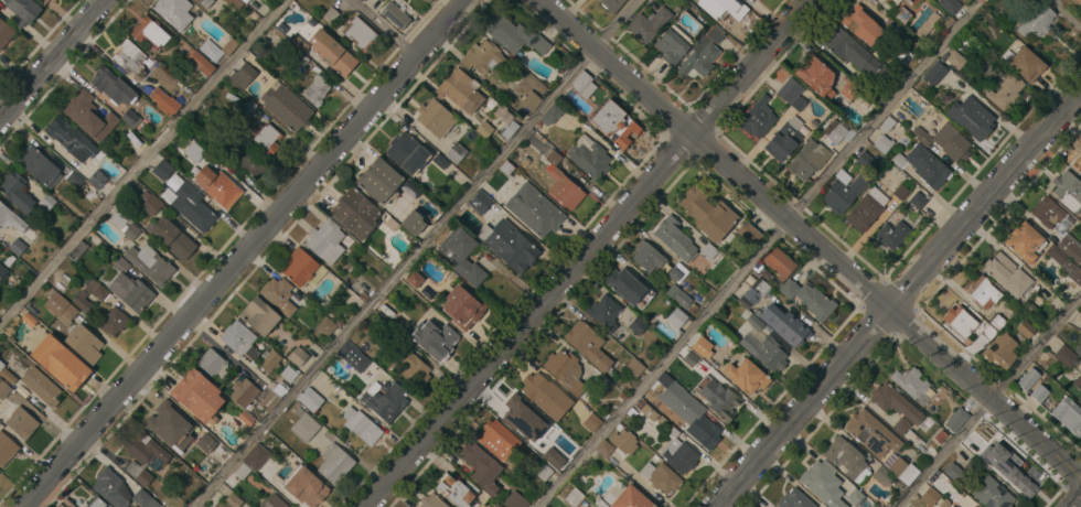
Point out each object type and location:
building: (52, 0)
building: (53, 0)
building: (244, 0)
building: (381, 0)
building: (884, 0)
building: (888, 0)
building: (427, 1)
building: (1079, 1)
building: (204, 2)
building: (236, 2)
building: (912, 2)
building: (611, 4)
building: (950, 6)
building: (728, 8)
building: (23, 9)
building: (173, 12)
building: (397, 12)
building: (330, 14)
building: (901, 14)
building: (1036, 20)
building: (984, 21)
building: (649, 24)
building: (861, 24)
building: (927, 25)
road: (386, 28)
building: (149, 32)
building: (4, 33)
building: (360, 34)
building: (515, 36)
building: (298, 43)
building: (672, 44)
building: (217, 48)
building: (849, 50)
building: (331, 52)
building: (702, 53)
building: (129, 57)
building: (481, 57)
road: (52, 58)
building: (300, 58)
building: (955, 60)
building: (199, 64)
building: (1025, 65)
building: (245, 73)
building: (934, 73)
building: (816, 77)
building: (893, 83)
building: (582, 85)
building: (113, 87)
building: (317, 89)
building: (460, 90)
building: (789, 90)
building: (848, 90)
building: (1003, 91)
building: (164, 101)
building: (531, 101)
building: (798, 104)
building: (248, 107)
building: (285, 107)
building: (501, 114)
building: (550, 115)
building: (88, 116)
building: (971, 117)
building: (129, 118)
building: (435, 118)
building: (757, 118)
building: (614, 123)
building: (887, 123)
building: (483, 129)
building: (510, 130)
building: (841, 132)
building: (69, 138)
building: (266, 138)
building: (784, 139)
building: (945, 141)
building: (882, 143)
building: (456, 152)
building: (406, 153)
building: (1080, 154)
building: (588, 157)
building: (807, 159)
building: (440, 161)
building: (866, 161)
building: (251, 162)
road: (143, 165)
building: (923, 165)
building: (39, 166)
building: (1078, 166)
building: (162, 169)
building: (74, 180)
building: (96, 180)
building: (379, 181)
building: (561, 184)
building: (221, 188)
building: (1068, 191)
building: (15, 192)
building: (843, 192)
building: (900, 192)
building: (918, 199)
building: (46, 202)
building: (480, 202)
building: (149, 203)
building: (189, 204)
building: (533, 209)
building: (1046, 212)
building: (355, 213)
building: (864, 213)
building: (707, 214)
building: (10, 218)
building: (118, 219)
building: (413, 223)
building: (130, 230)
building: (748, 233)
building: (890, 235)
building: (171, 238)
building: (410, 238)
road: (810, 238)
building: (674, 239)
building: (325, 241)
building: (1024, 241)
building: (17, 246)
building: (81, 246)
building: (509, 246)
building: (1070, 248)
road: (246, 252)
road: (413, 253)
road: (588, 253)
road: (761, 255)
building: (462, 256)
building: (647, 256)
building: (779, 262)
building: (150, 263)
building: (298, 267)
building: (1071, 270)
building: (2, 271)
building: (677, 272)
building: (1009, 273)
building: (411, 279)
building: (625, 285)
building: (129, 288)
building: (757, 291)
building: (982, 291)
building: (426, 292)
building: (278, 294)
building: (100, 295)
building: (677, 295)
road: (898, 296)
building: (809, 299)
building: (61, 308)
building: (468, 311)
building: (604, 312)
building: (258, 315)
building: (676, 317)
building: (29, 320)
building: (960, 320)
building: (114, 321)
building: (754, 321)
building: (997, 322)
building: (339, 323)
building: (784, 324)
building: (325, 325)
building: (638, 325)
building: (1025, 328)
building: (1080, 330)
building: (988, 332)
building: (239, 338)
building: (435, 338)
building: (84, 343)
building: (588, 344)
building: (1080, 345)
building: (700, 346)
building: (1000, 349)
building: (764, 352)
building: (298, 356)
building: (352, 356)
building: (1066, 356)
building: (269, 359)
building: (61, 362)
building: (212, 363)
building: (634, 367)
building: (414, 368)
building: (565, 370)
building: (7, 374)
building: (289, 374)
building: (746, 376)
building: (1028, 379)
building: (1078, 382)
building: (913, 385)
building: (41, 386)
building: (536, 387)
building: (4, 389)
building: (244, 391)
building: (1039, 393)
building: (197, 395)
building: (272, 397)
building: (1080, 398)
building: (310, 399)
building: (385, 400)
building: (895, 402)
road: (988, 402)
building: (725, 404)
building: (691, 414)
building: (514, 416)
building: (1068, 416)
building: (956, 420)
building: (21, 421)
building: (595, 421)
building: (163, 423)
building: (546, 423)
building: (304, 425)
building: (361, 425)
building: (571, 427)
building: (871, 433)
building: (202, 439)
building: (497, 440)
building: (624, 441)
building: (145, 447)
building: (7, 449)
building: (604, 449)
building: (678, 451)
building: (994, 455)
building: (256, 456)
building: (846, 459)
building: (334, 463)
building: (481, 467)
building: (240, 470)
building: (959, 470)
building: (543, 471)
building: (903, 471)
building: (139, 473)
building: (882, 475)
building: (661, 477)
building: (1024, 478)
building: (823, 483)
building: (306, 487)
building: (111, 488)
building: (456, 490)
building: (992, 494)
building: (930, 496)
building: (575, 497)
building: (145, 498)
building: (631, 498)
building: (858, 498)
building: (233, 499)
building: (794, 499)
building: (515, 500)
building: (274, 501)
building: (431, 501)
building: (98, 503)
road: (1077, 503)
building: (65, 504)
building: (496, 505)
building: (540, 506)
building: (544, 506)
building: (952, 506)
building: (955, 506)
building: (971, 506)

